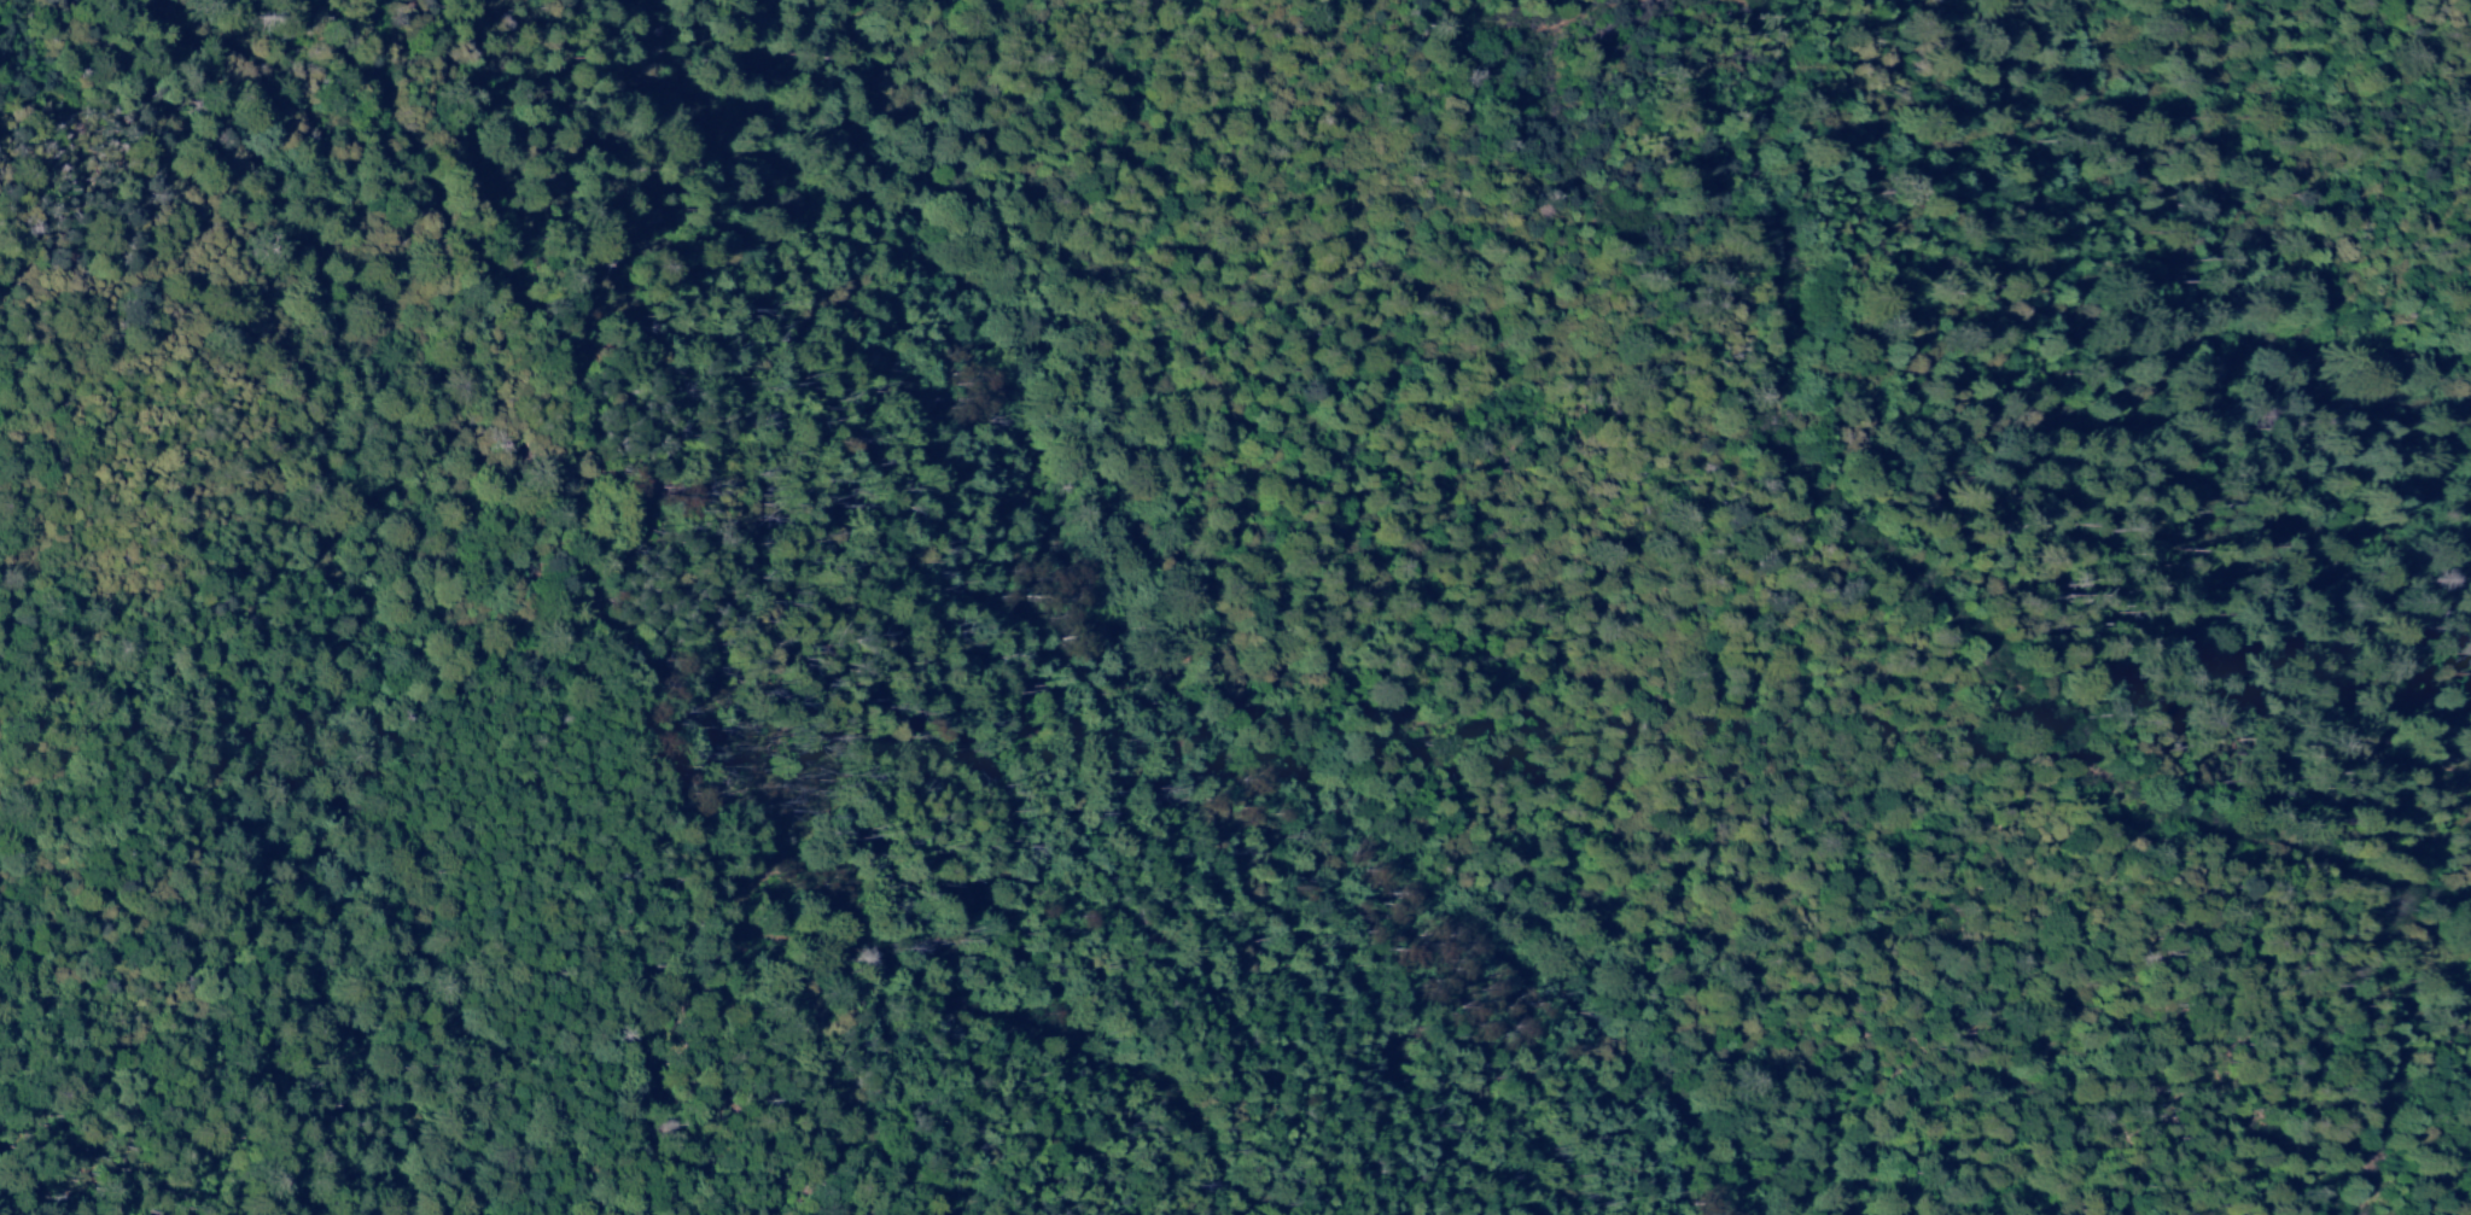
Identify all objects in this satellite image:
road: (21, 49)
road: (339, 56)
road: (683, 788)

